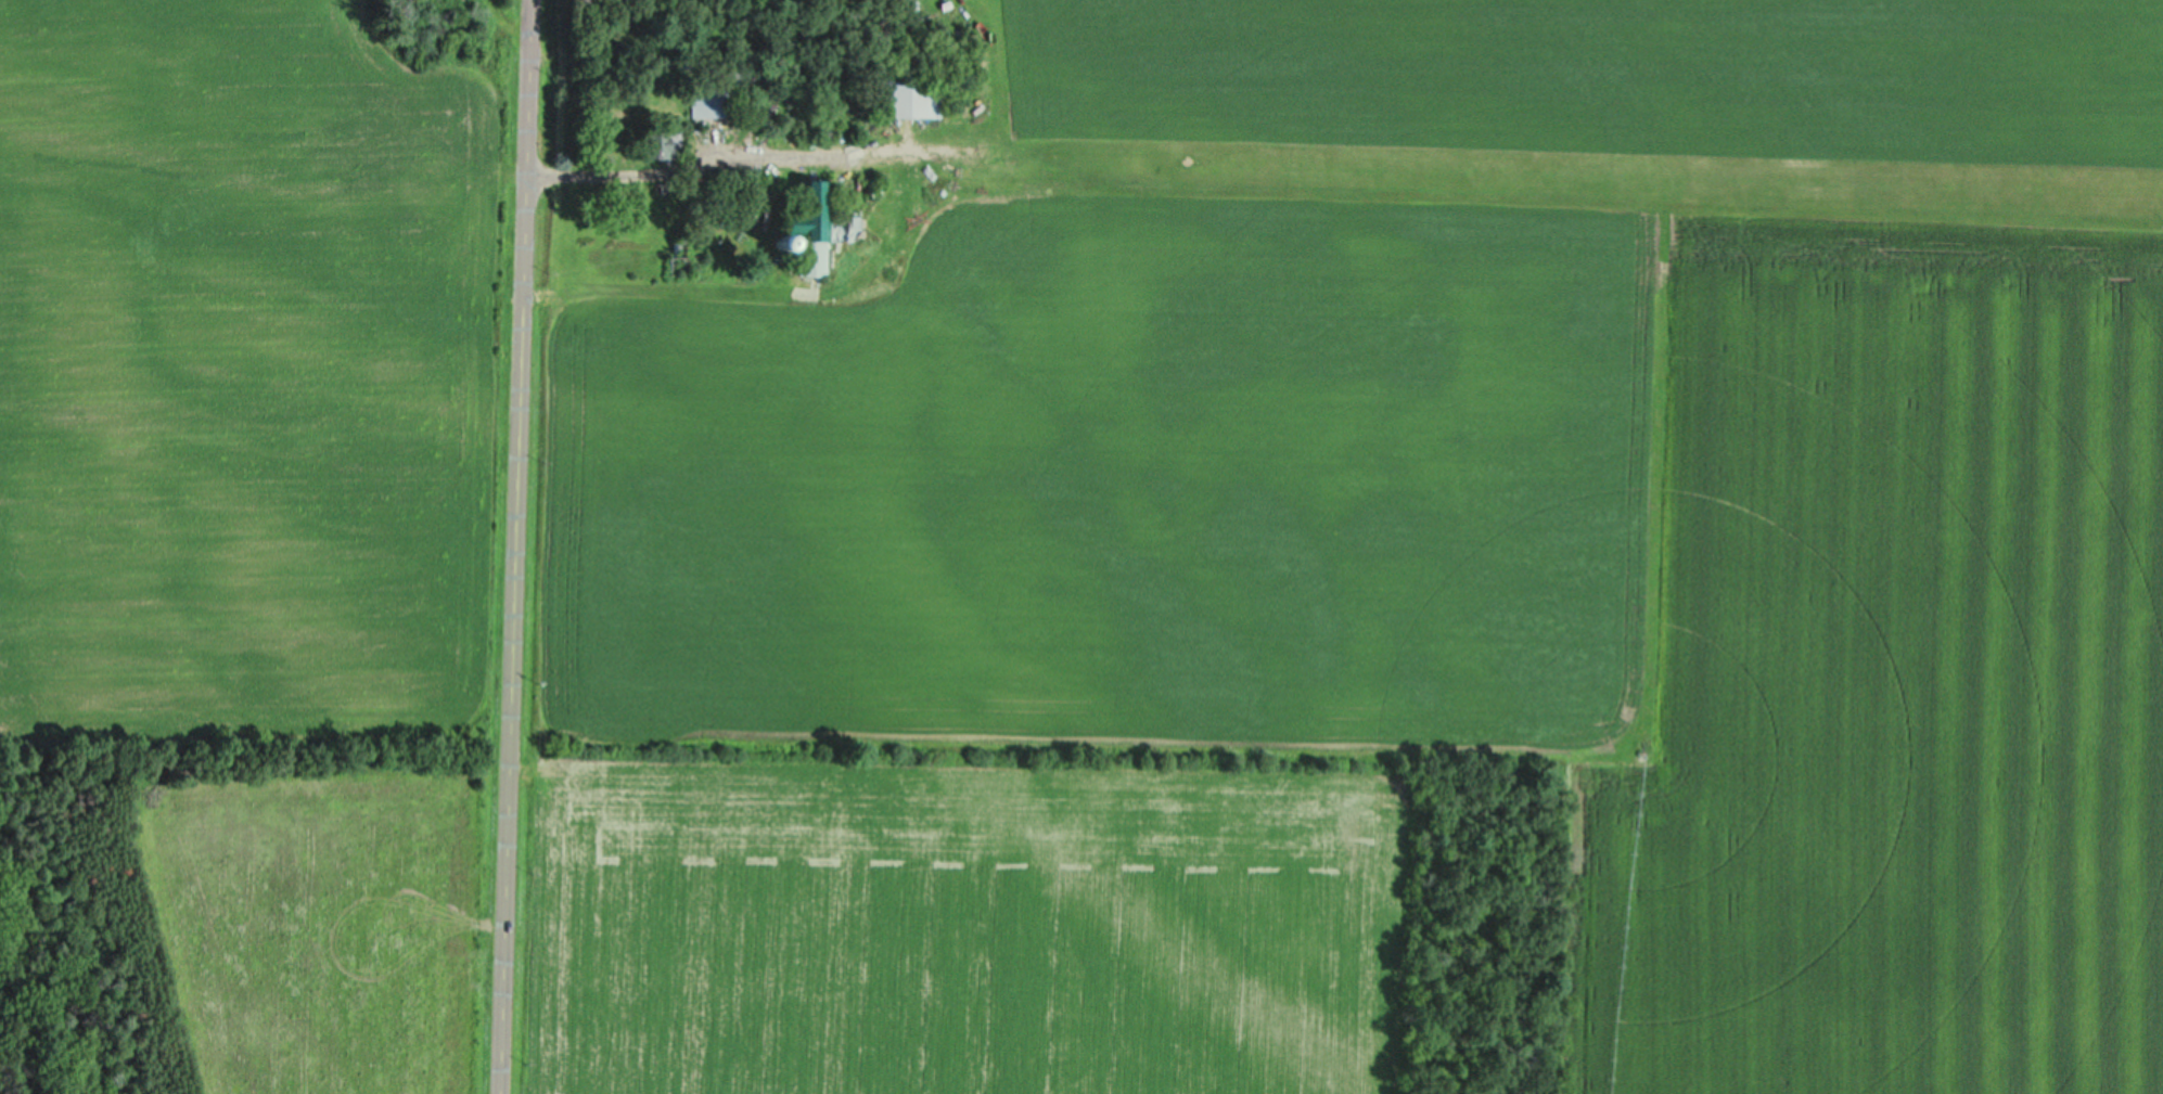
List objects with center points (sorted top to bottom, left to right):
building: (907, 98)
building: (706, 99)
building: (652, 142)
road: (676, 170)
building: (815, 228)
road: (515, 546)

